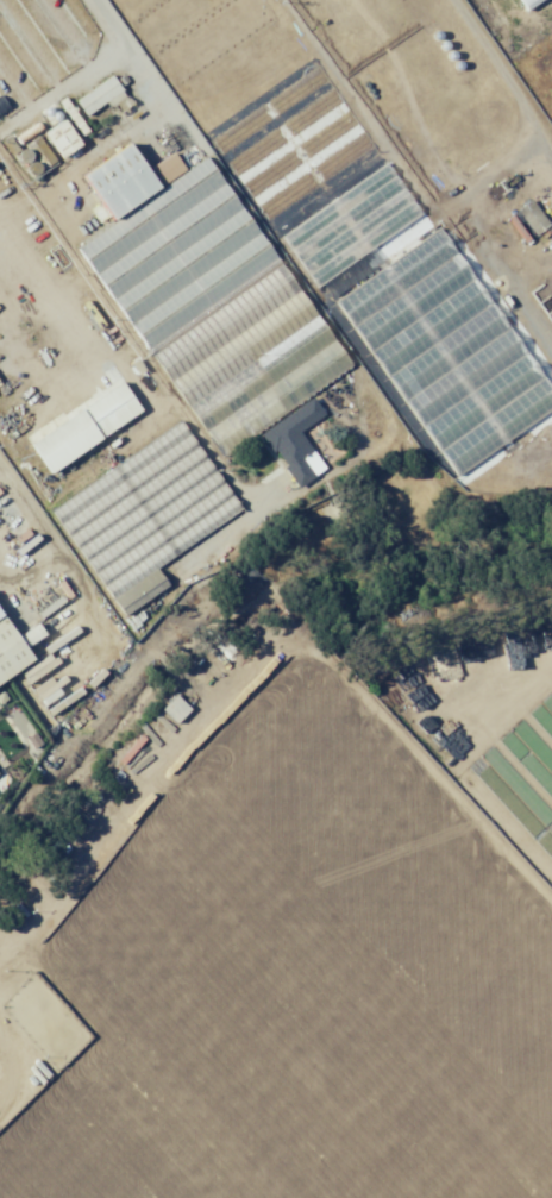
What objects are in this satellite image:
building: (522, 2)
building: (101, 96)
building: (534, 218)
building: (347, 221)
building: (212, 303)
building: (87, 428)
building: (145, 515)
building: (12, 653)
building: (101, 694)
building: (176, 715)
road: (159, 879)
building: (20, 905)
crop: (314, 962)

